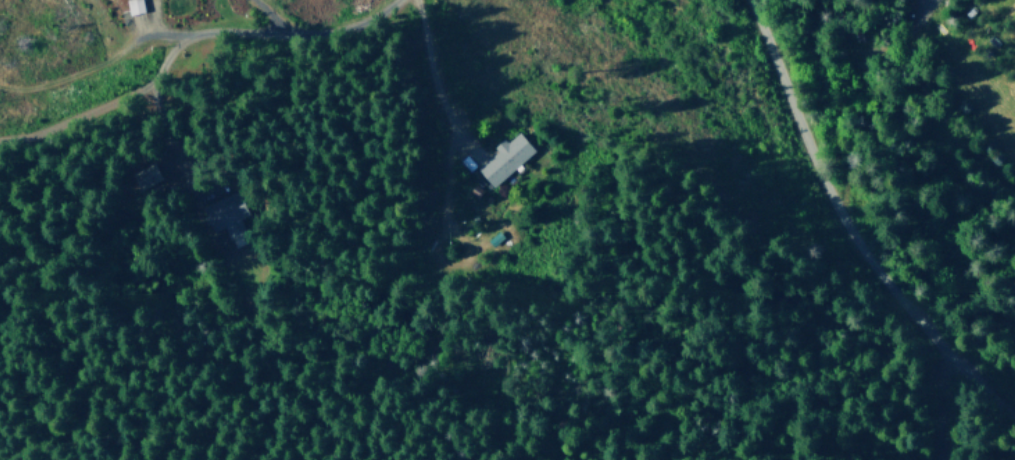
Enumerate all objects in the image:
building: (505, 158)
road: (360, 196)
road: (833, 211)
building: (226, 216)

